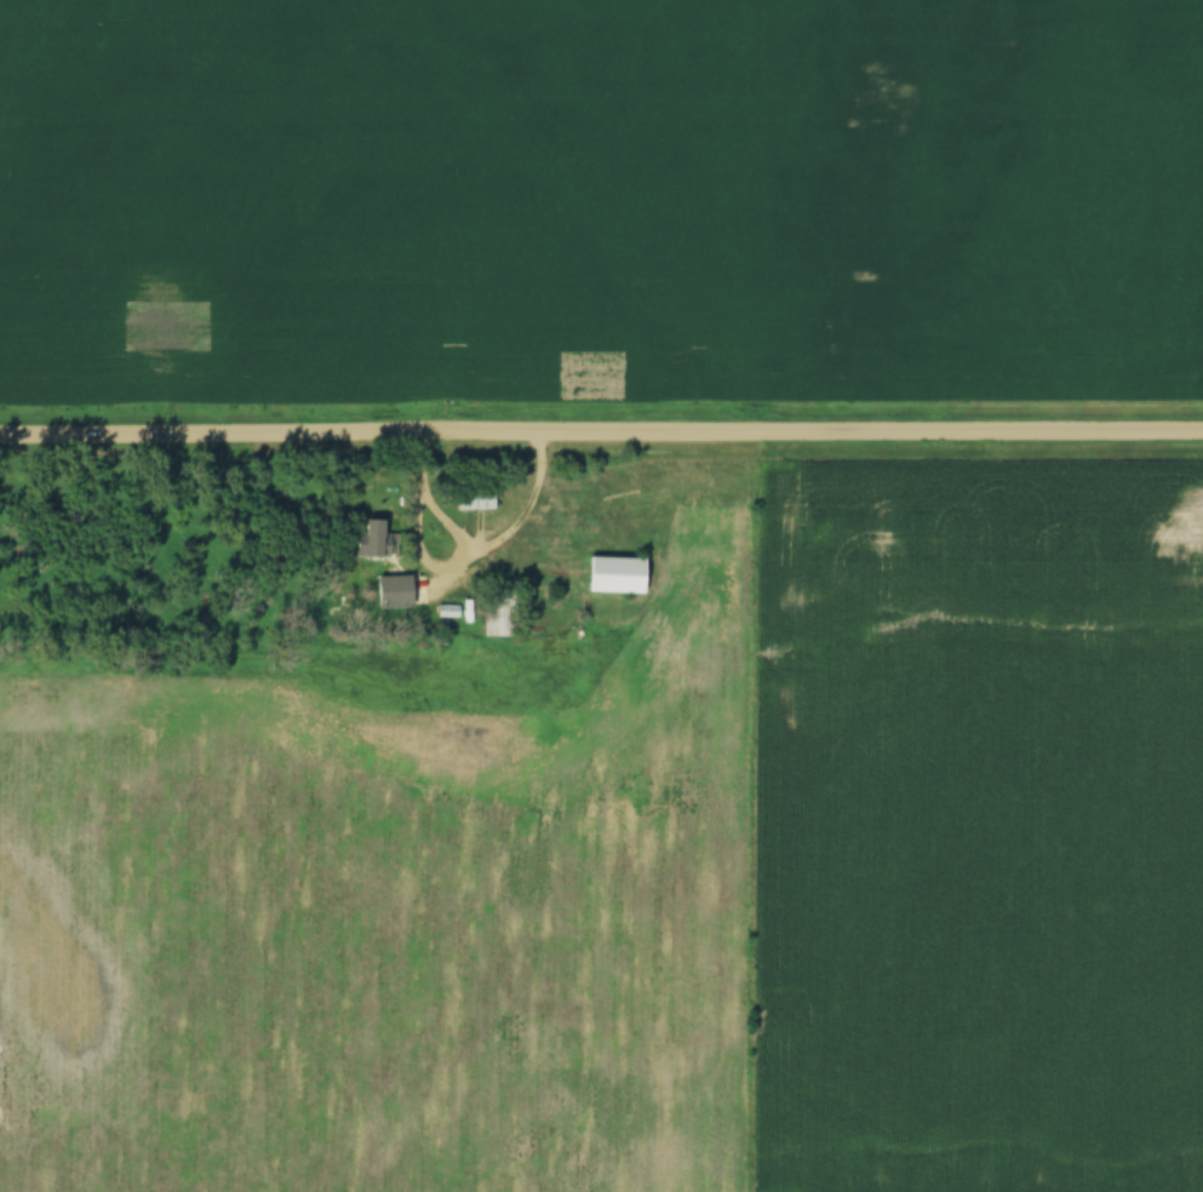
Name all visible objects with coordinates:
road: (601, 430)
building: (472, 500)
building: (372, 539)
building: (613, 575)
building: (401, 591)
building: (498, 619)

